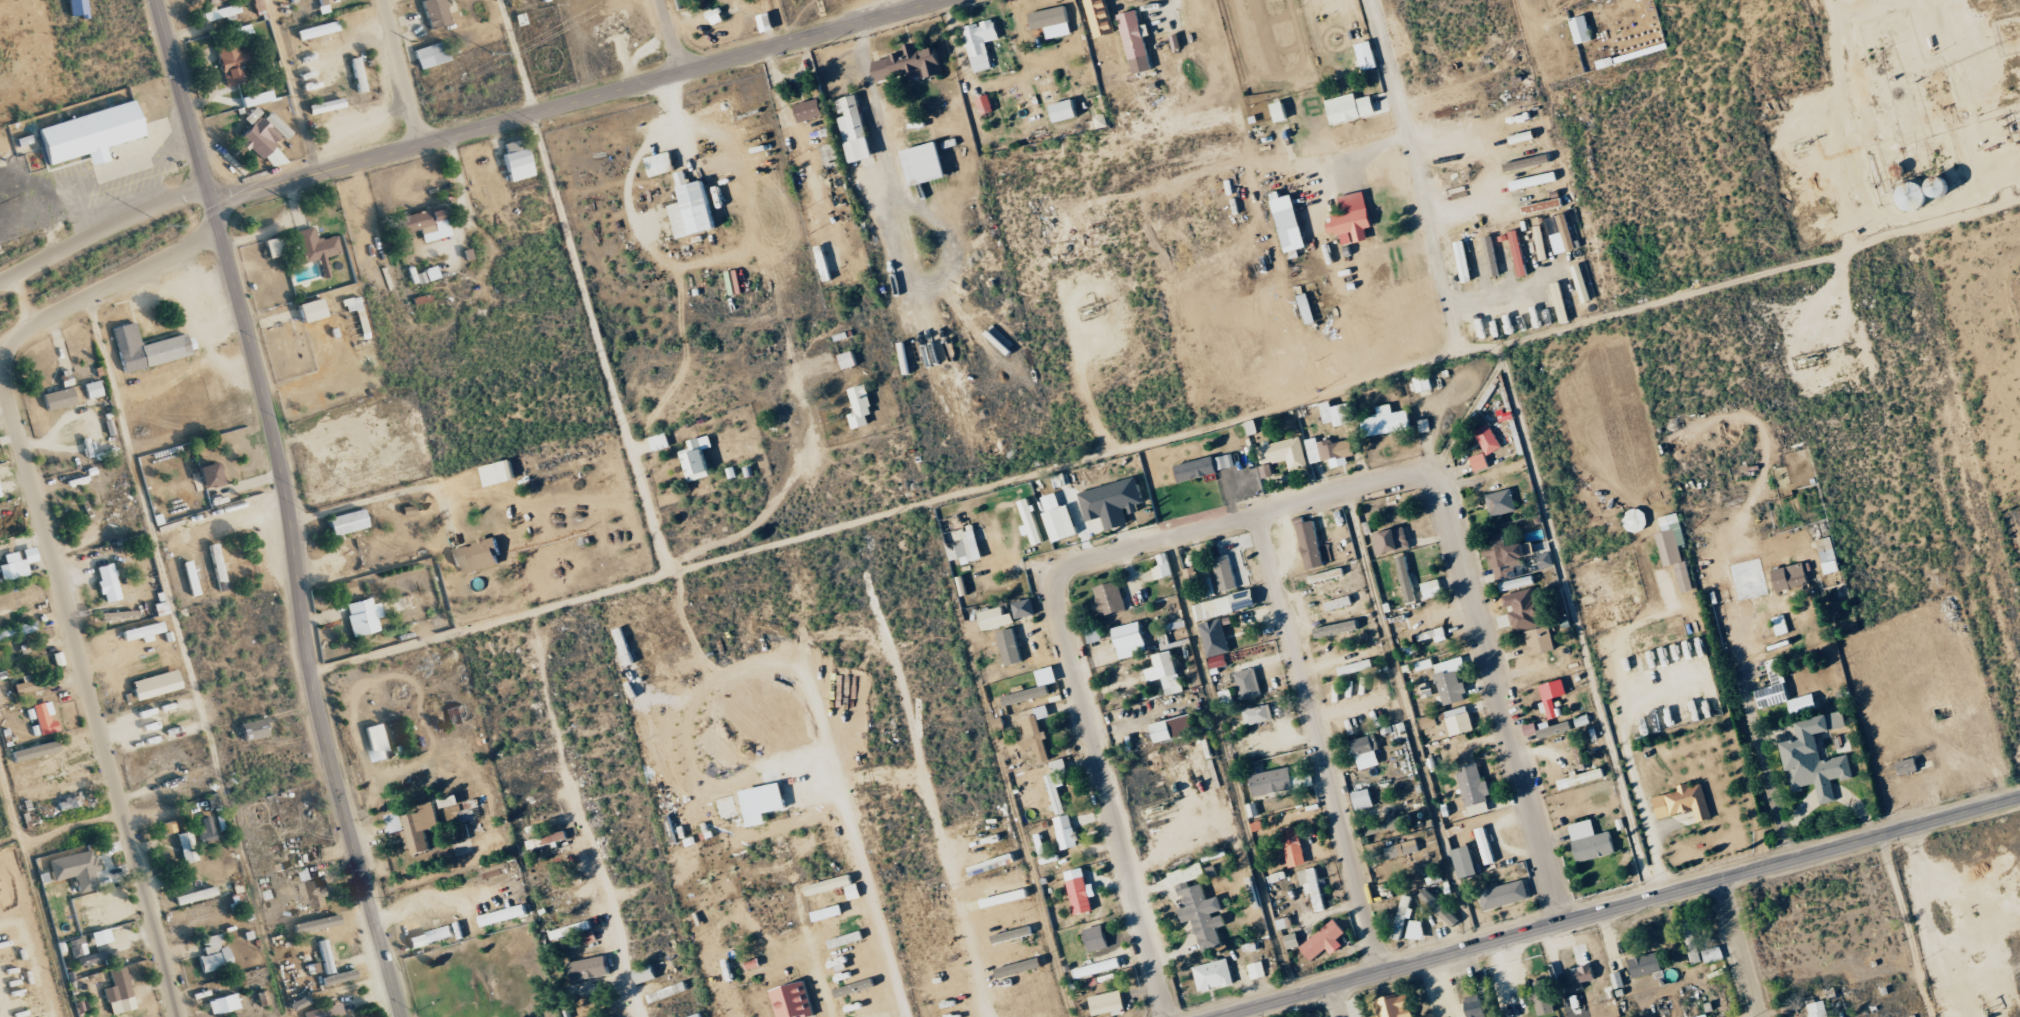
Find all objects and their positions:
building: (325, 2)
road: (925, 2)
building: (77, 8)
building: (219, 13)
building: (436, 13)
building: (716, 16)
building: (1101, 18)
building: (1052, 22)
building: (767, 23)
building: (242, 30)
building: (318, 30)
building: (1582, 30)
road: (670, 36)
building: (1136, 42)
building: (981, 44)
building: (431, 55)
building: (1367, 56)
building: (234, 62)
building: (911, 63)
road: (402, 72)
building: (358, 75)
road: (179, 93)
building: (1049, 93)
building: (256, 98)
road: (576, 100)
building: (985, 105)
building: (326, 106)
building: (1355, 107)
building: (810, 110)
building: (1065, 111)
building: (1280, 112)
building: (854, 129)
building: (263, 133)
building: (91, 134)
building: (1524, 137)
building: (830, 156)
building: (518, 160)
building: (1528, 163)
building: (661, 164)
building: (926, 165)
road: (1416, 174)
building: (1534, 181)
road: (207, 195)
building: (1543, 206)
building: (693, 209)
building: (1353, 220)
building: (1289, 222)
building: (427, 224)
road: (100, 231)
building: (1564, 240)
building: (1541, 246)
building: (274, 247)
building: (317, 248)
building: (1519, 254)
building: (1491, 257)
building: (1464, 262)
building: (431, 273)
building: (1582, 284)
building: (1561, 303)
building: (312, 309)
building: (1307, 309)
building: (1000, 340)
building: (149, 348)
building: (849, 360)
road: (1342, 383)
building: (1424, 383)
building: (93, 389)
building: (59, 398)
building: (861, 406)
building: (1343, 415)
building: (1387, 421)
building: (1423, 425)
building: (1252, 427)
building: (1488, 439)
building: (660, 442)
building: (1330, 451)
building: (1284, 453)
building: (697, 459)
building: (1226, 461)
building: (1481, 462)
building: (1197, 469)
building: (1266, 471)
building: (499, 473)
building: (211, 475)
building: (0, 496)
building: (1113, 503)
building: (1501, 503)
building: (409, 510)
road: (1242, 517)
road: (650, 518)
building: (1059, 519)
building: (1636, 520)
building: (348, 522)
building: (1031, 522)
building: (1391, 541)
building: (1311, 545)
building: (964, 546)
building: (1674, 549)
building: (1826, 549)
building: (477, 556)
building: (1505, 557)
building: (1546, 560)
road: (52, 567)
building: (219, 567)
building: (1163, 567)
building: (13, 570)
building: (1834, 570)
building: (1224, 573)
building: (1327, 575)
building: (1791, 577)
building: (191, 578)
building: (1406, 579)
building: (108, 582)
building: (348, 587)
building: (1432, 589)
building: (1110, 598)
building: (1339, 603)
building: (1224, 605)
building: (1025, 608)
building: (1525, 609)
road: (299, 611)
building: (1722, 612)
building: (362, 616)
building: (997, 618)
building: (1781, 625)
building: (1337, 628)
building: (17, 630)
building: (1094, 634)
building: (1434, 635)
building: (1215, 638)
building: (1131, 640)
building: (1540, 641)
building: (1011, 647)
building: (1218, 661)
building: (1356, 667)
building: (1166, 673)
building: (1450, 680)
building: (1248, 683)
building: (156, 684)
building: (25, 686)
building: (1774, 686)
building: (1427, 690)
road: (1501, 693)
building: (1027, 695)
building: (1228, 698)
building: (1553, 698)
road: (1747, 702)
building: (1803, 704)
building: (1258, 715)
building: (44, 718)
building: (1458, 721)
building: (1429, 722)
building: (1176, 728)
building: (256, 729)
building: (1555, 729)
building: (1036, 734)
building: (377, 742)
road: (1318, 743)
building: (35, 751)
building: (1365, 752)
building: (1817, 758)
building: (1908, 766)
building: (1582, 778)
building: (1280, 781)
building: (1057, 784)
building: (1475, 789)
road: (1107, 794)
building: (1363, 799)
building: (448, 802)
building: (1685, 802)
building: (764, 803)
building: (467, 813)
building: (394, 822)
building: (1384, 825)
building: (169, 826)
building: (422, 828)
building: (206, 830)
building: (1066, 832)
building: (553, 837)
building: (1591, 842)
building: (460, 845)
building: (187, 846)
building: (1486, 846)
building: (1294, 847)
road: (944, 848)
building: (1402, 849)
building: (992, 865)
building: (75, 869)
building: (1314, 888)
building: (1081, 892)
building: (195, 895)
building: (1505, 895)
road: (1618, 906)
building: (1200, 907)
building: (1438, 907)
building: (504, 914)
building: (1404, 916)
road: (605, 918)
building: (317, 923)
building: (1416, 930)
building: (576, 931)
building: (1012, 935)
building: (431, 936)
building: (1097, 938)
building: (847, 939)
building: (1293, 940)
building: (1691, 940)
building: (1325, 941)
road: (1741, 947)
building: (85, 952)
building: (214, 954)
building: (1712, 954)
building: (325, 956)
building: (1647, 964)
building: (590, 968)
building: (1098, 968)
building: (1257, 970)
building: (645, 973)
building: (1214, 975)
building: (1582, 976)
building: (338, 977)
building: (118, 985)
building: (668, 992)
building: (1543, 997)
building: (793, 1001)
road: (1337, 1001)
building: (299, 1002)
building: (223, 1004)
building: (1107, 1004)
building: (1394, 1006)
building: (1476, 1006)
road: (1, 1008)
building: (1813, 1009)
building: (325, 1011)
building: (697, 1015)
building: (1429, 1015)

